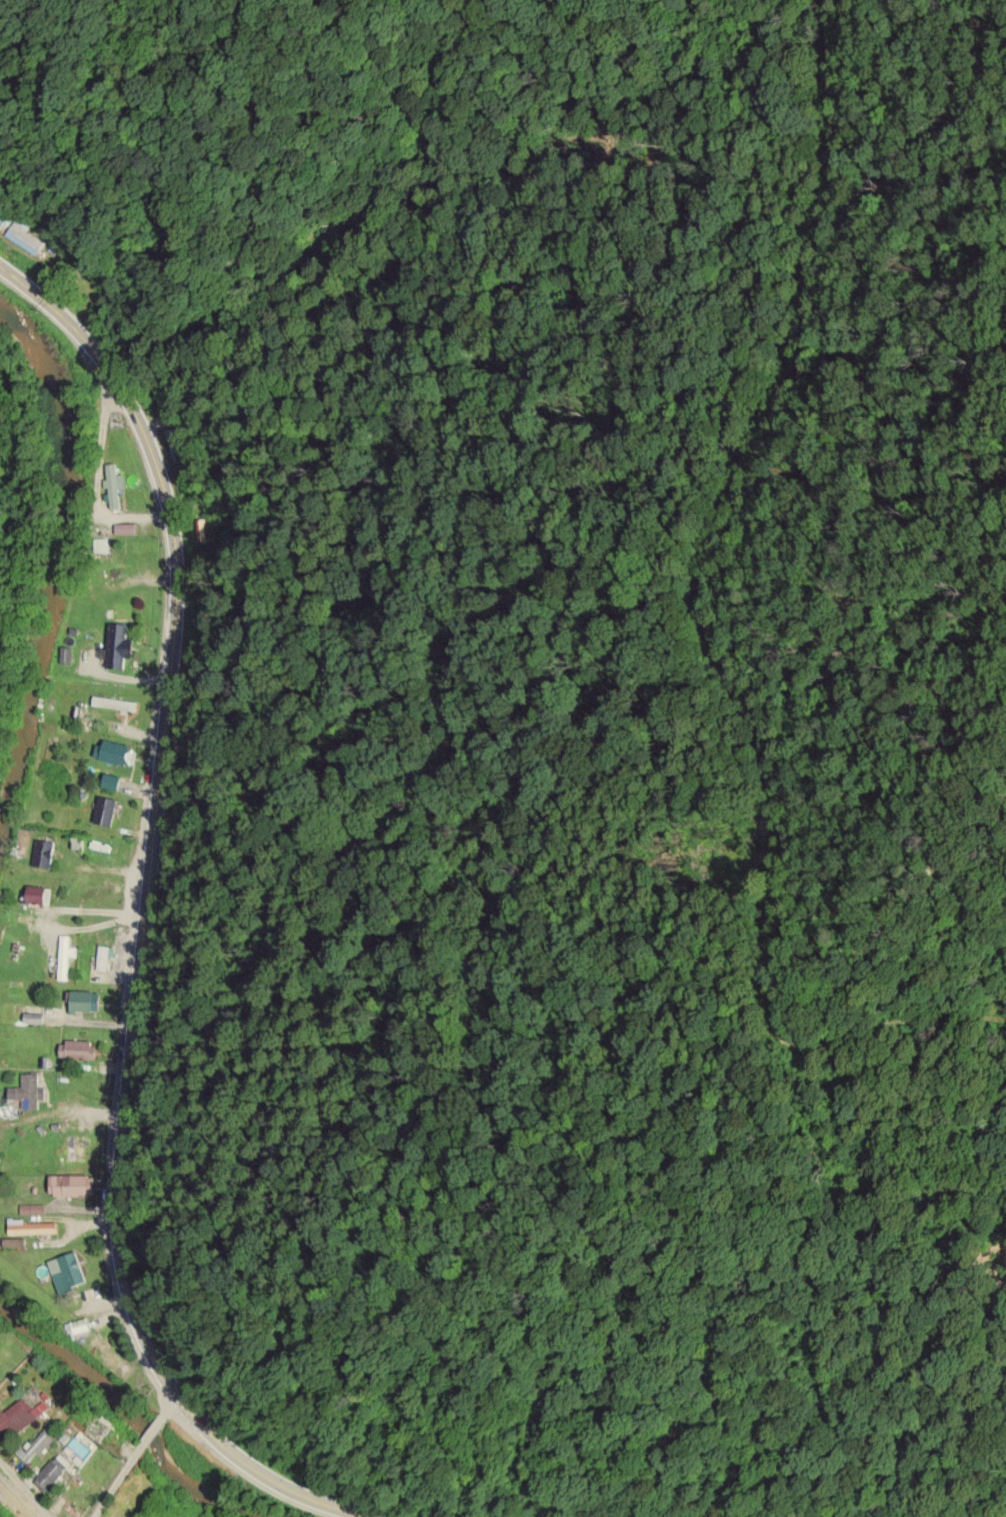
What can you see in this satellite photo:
building: (2, 220)
building: (24, 236)
road: (152, 453)
building: (115, 489)
river: (57, 544)
building: (116, 646)
road: (110, 710)
building: (110, 752)
building: (110, 781)
building: (104, 811)
building: (104, 847)
building: (41, 853)
building: (36, 895)
building: (63, 956)
building: (101, 958)
building: (84, 1002)
building: (32, 1018)
building: (76, 1050)
building: (27, 1092)
road: (65, 1111)
building: (74, 1148)
road: (127, 1169)
building: (71, 1185)
building: (31, 1209)
building: (30, 1228)
building: (12, 1243)
building: (65, 1272)
building: (77, 1329)
building: (105, 1352)
river: (137, 1396)
building: (19, 1415)
road: (87, 1420)
building: (36, 1445)
road: (133, 1454)
building: (50, 1472)
railway: (15, 1501)

